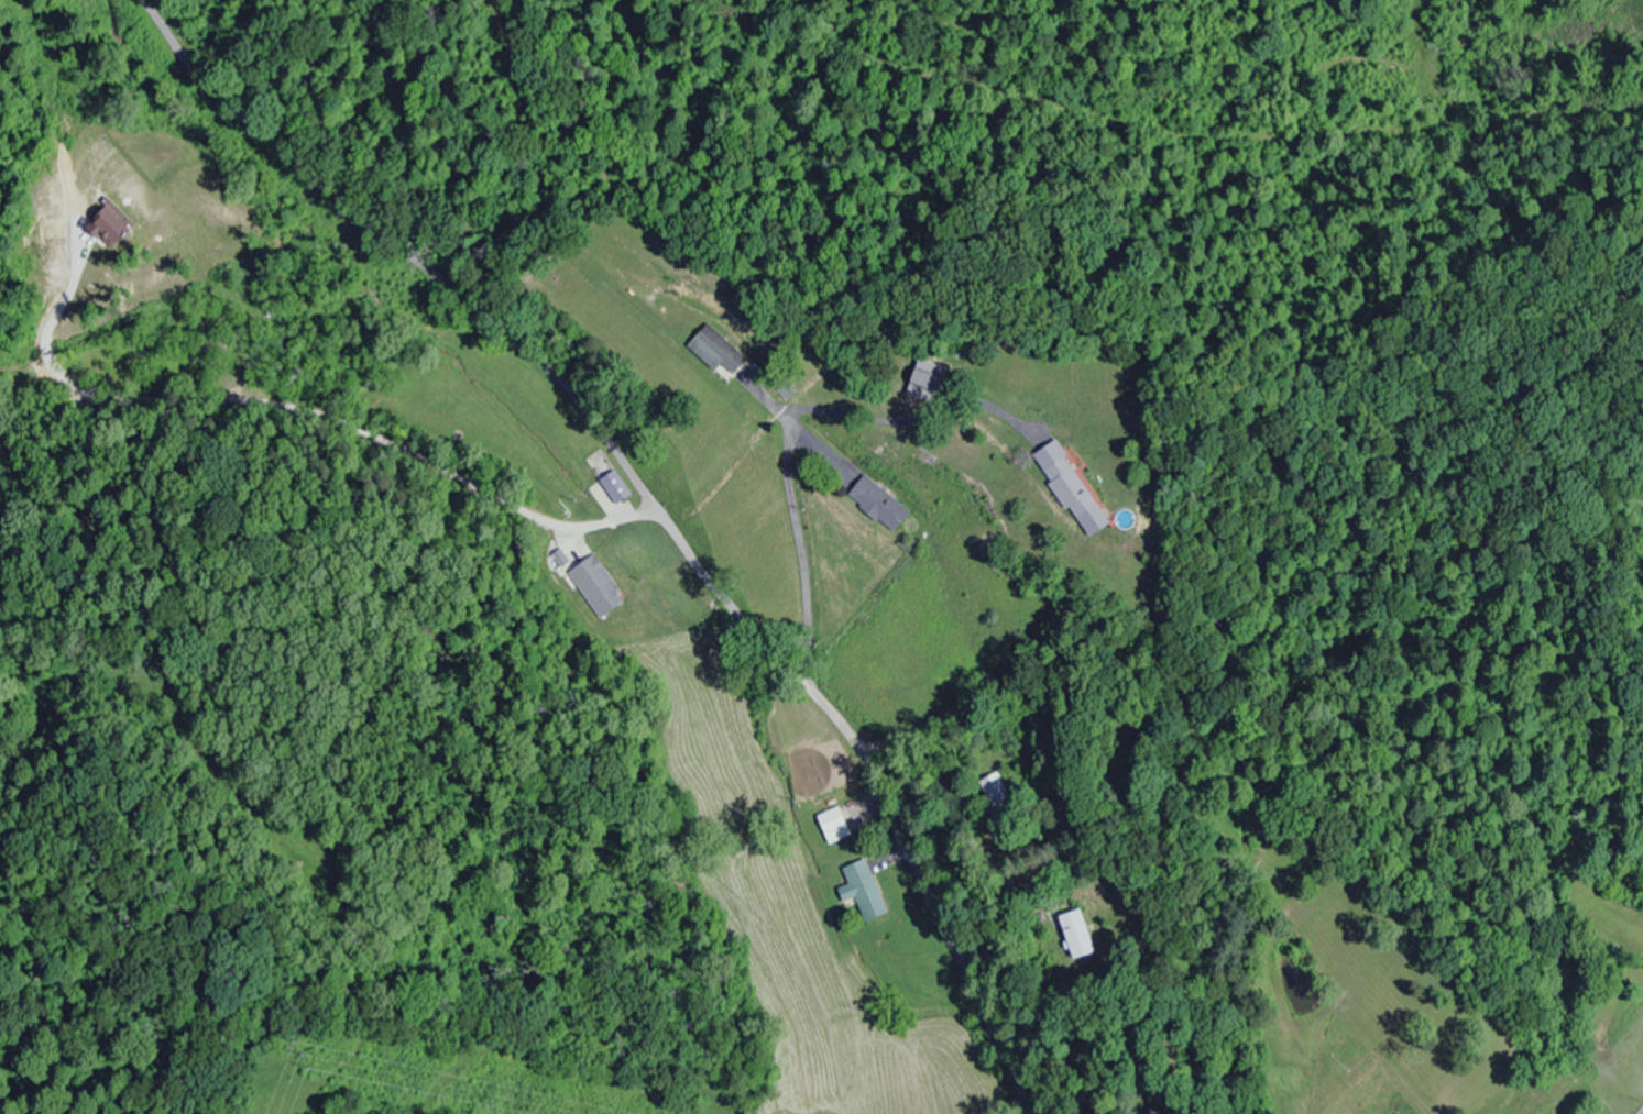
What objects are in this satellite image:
road: (445, 169)
road: (150, 300)
building: (715, 349)
building: (924, 386)
road: (642, 489)
building: (1074, 496)
building: (877, 503)
building: (598, 587)
building: (994, 791)
building: (832, 825)
building: (864, 890)
building: (1074, 934)
road: (1018, 1096)
building: (1391, 1112)

